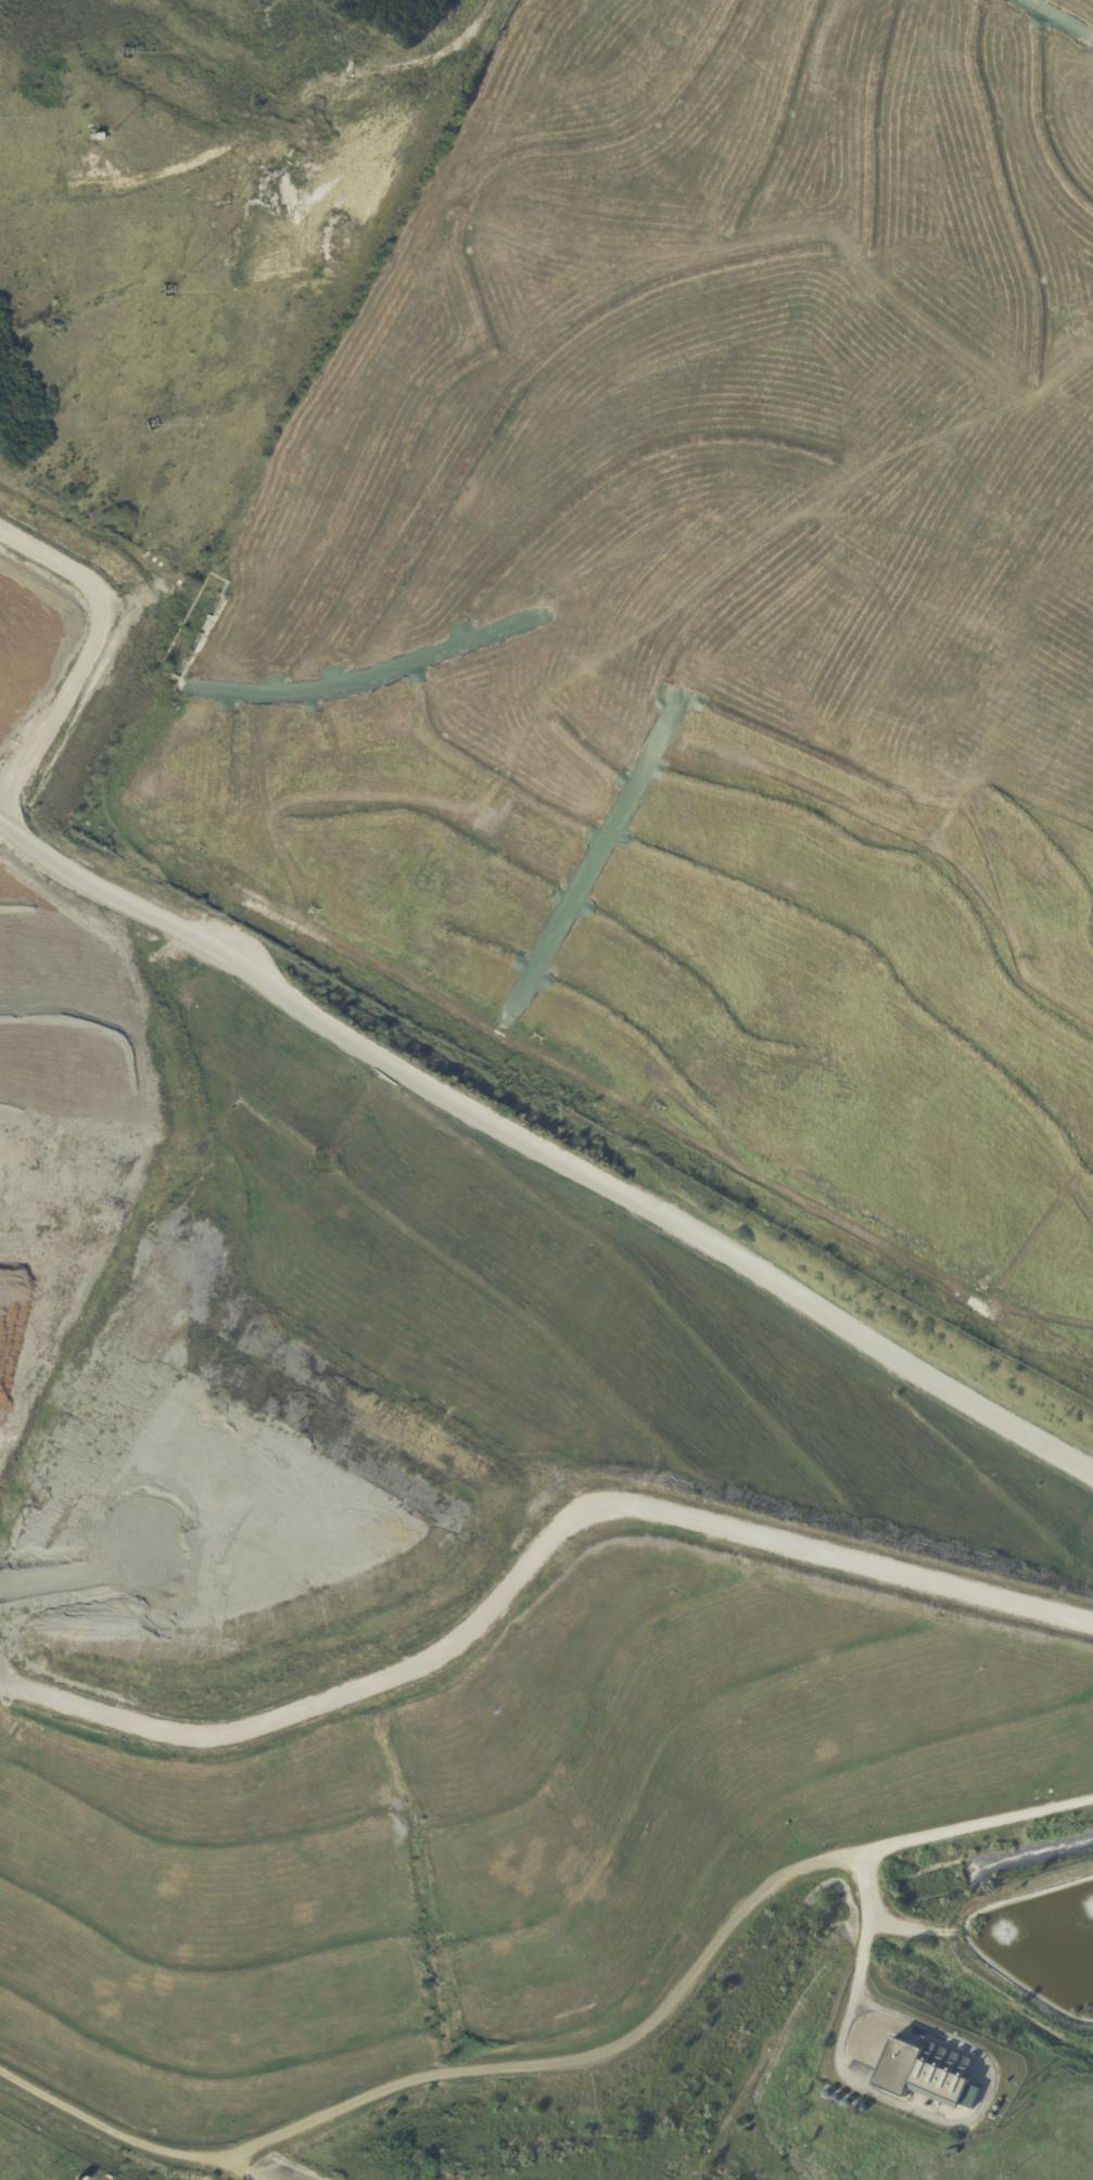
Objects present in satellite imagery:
road: (300, 102)
building: (93, 135)
landfill: (715, 604)
road: (645, 1196)
landfill: (422, 1547)
road: (869, 1927)
road: (671, 2000)
landfill: (928, 2049)
building: (920, 2075)
building: (999, 2107)
building: (953, 2153)
landfill: (39, 2158)
road: (244, 2172)

